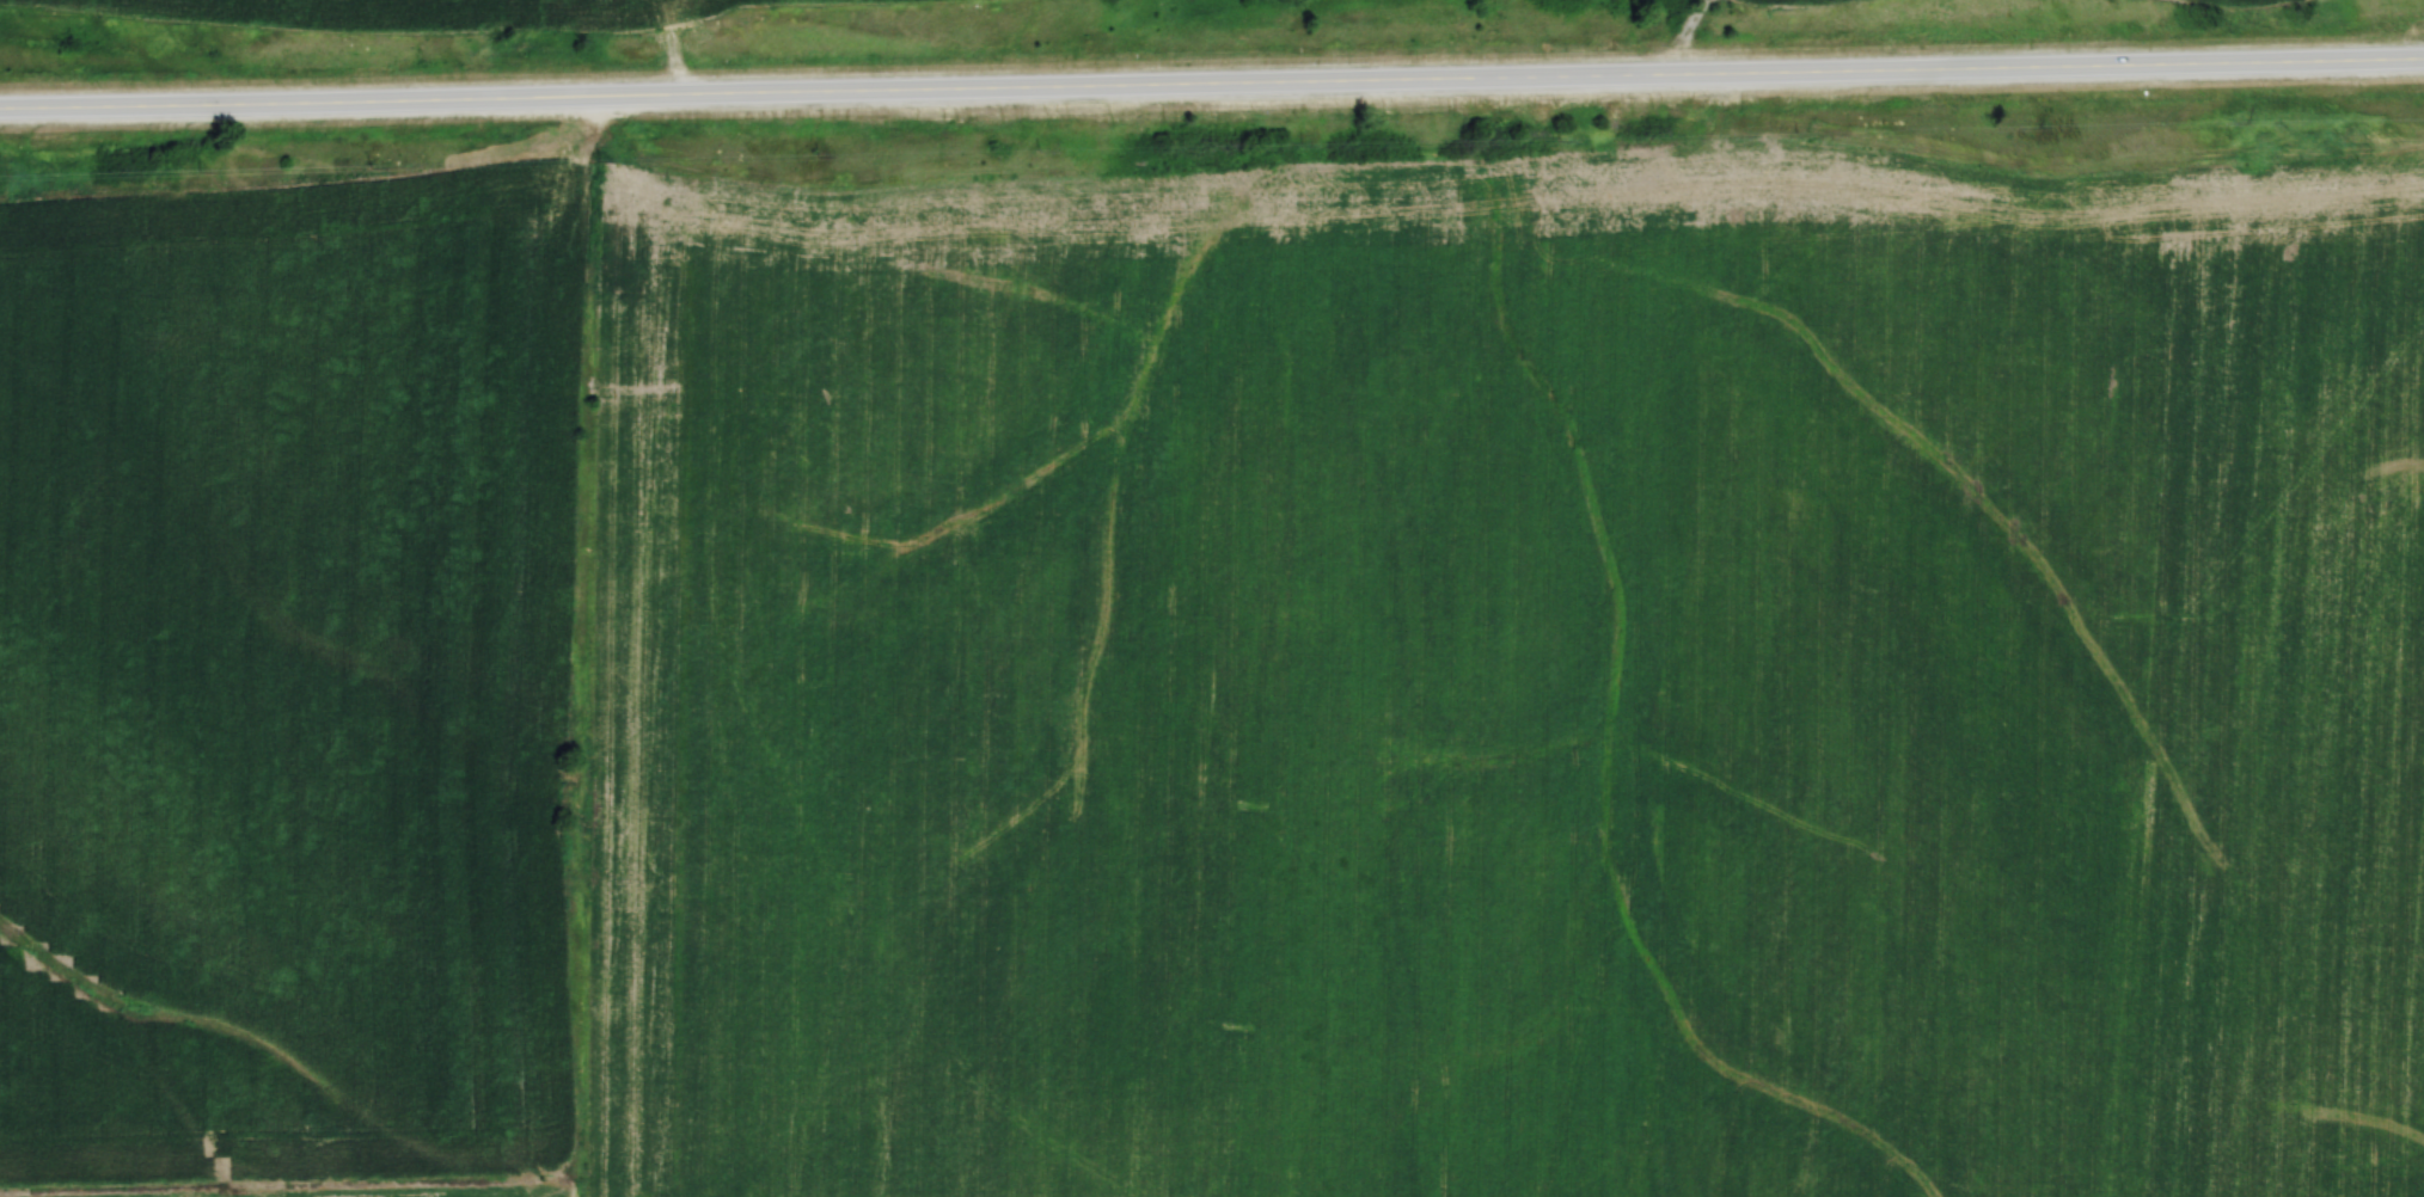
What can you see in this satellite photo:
crop: (2246, 2)
road: (1212, 82)

